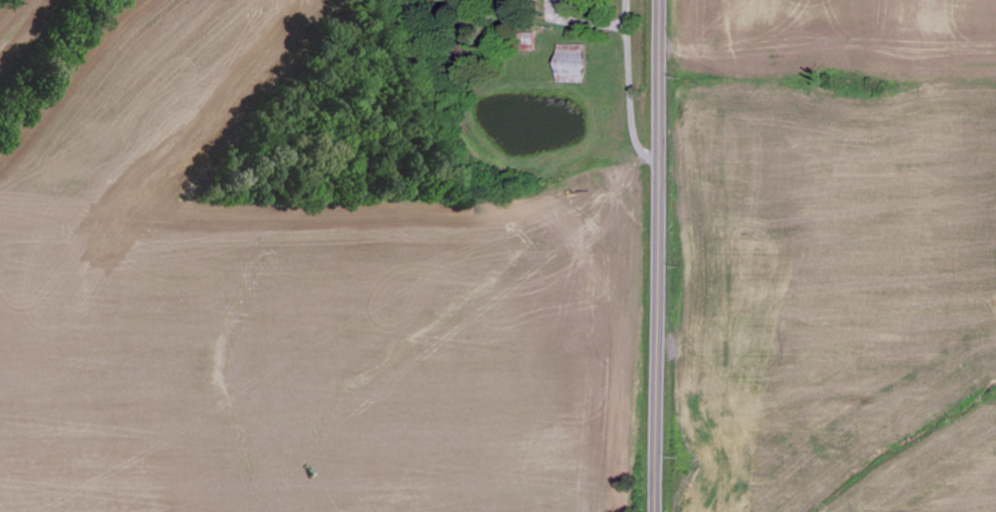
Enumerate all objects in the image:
road: (658, 255)

